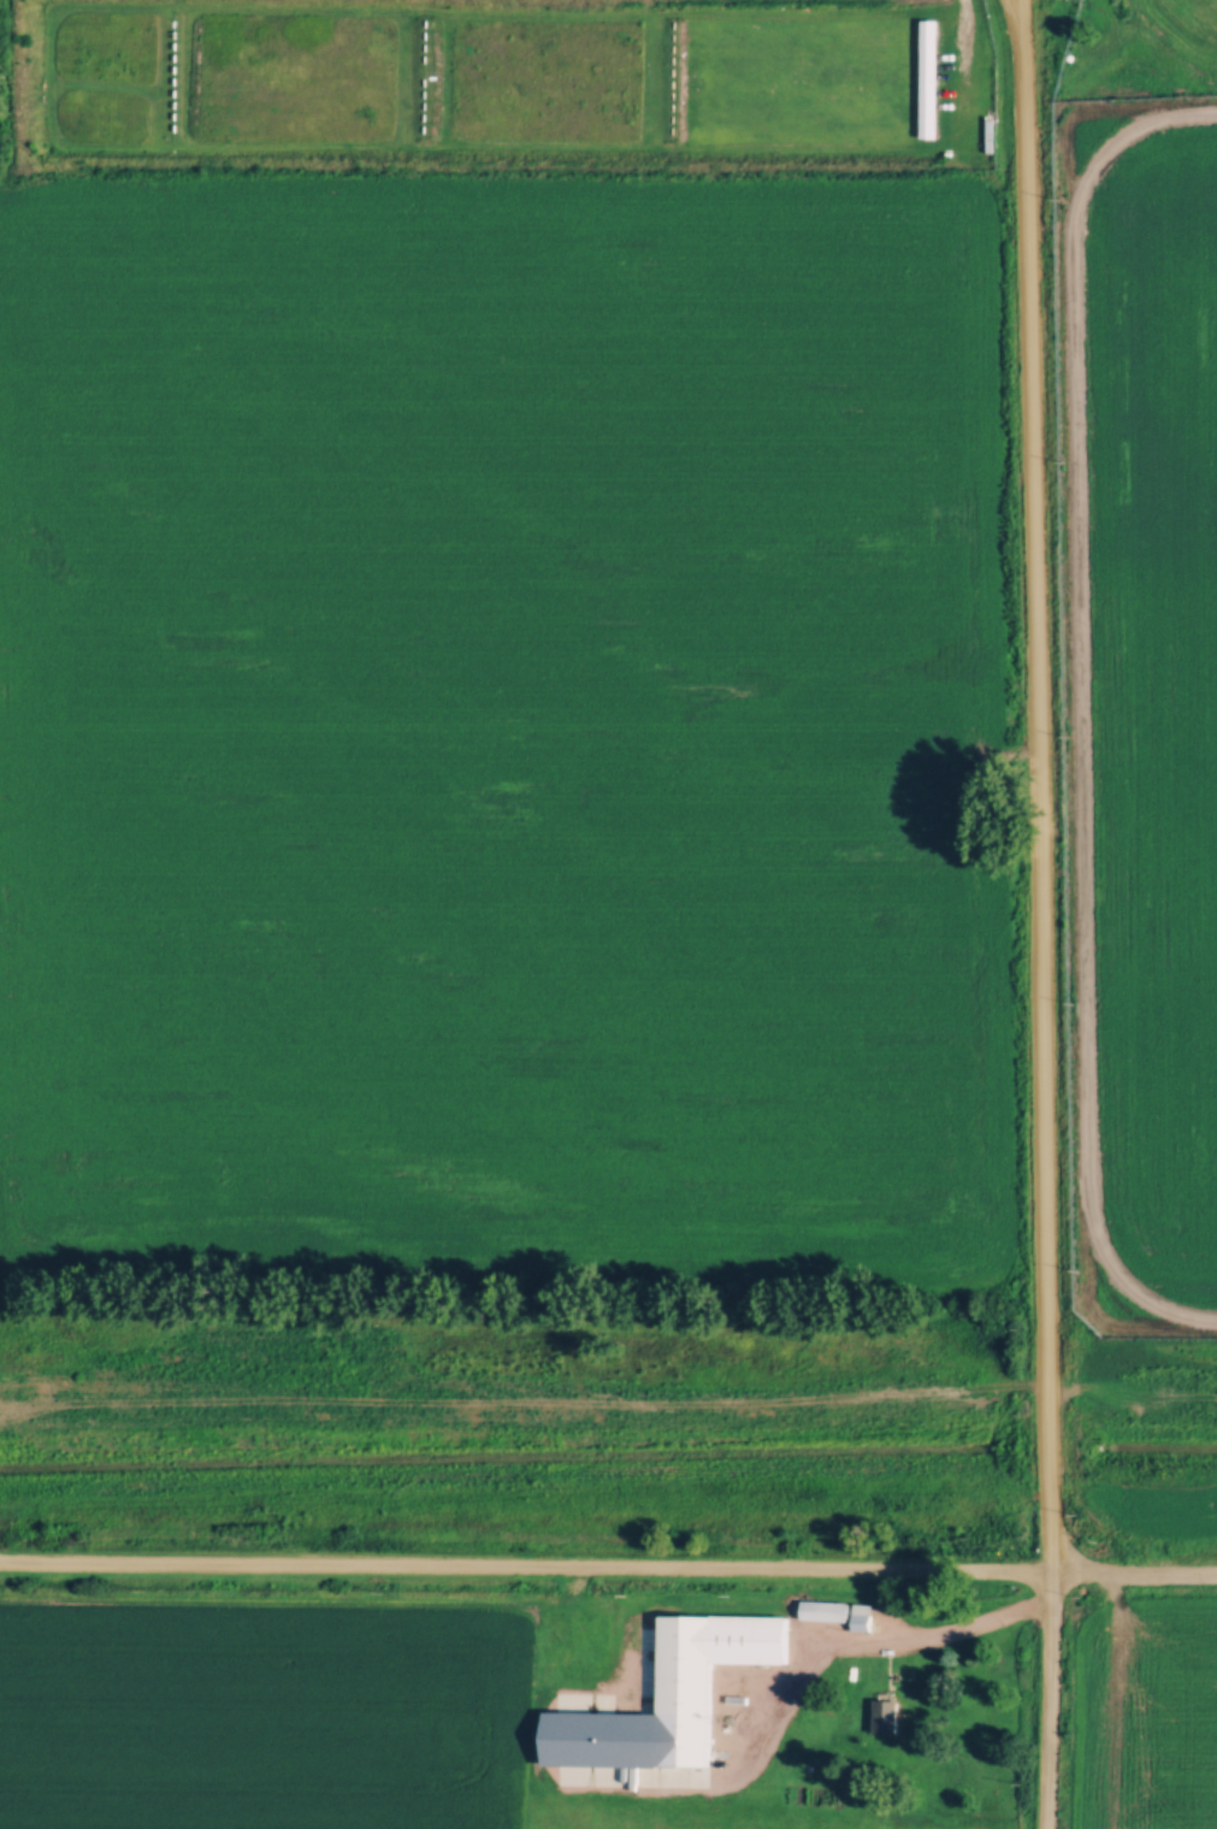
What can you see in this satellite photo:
road: (1016, 14)
building: (928, 75)
road: (1080, 706)
road: (1034, 784)
road: (608, 1564)
building: (838, 1609)
building: (704, 1671)
road: (774, 1698)
road: (1048, 1699)
building: (885, 1711)

